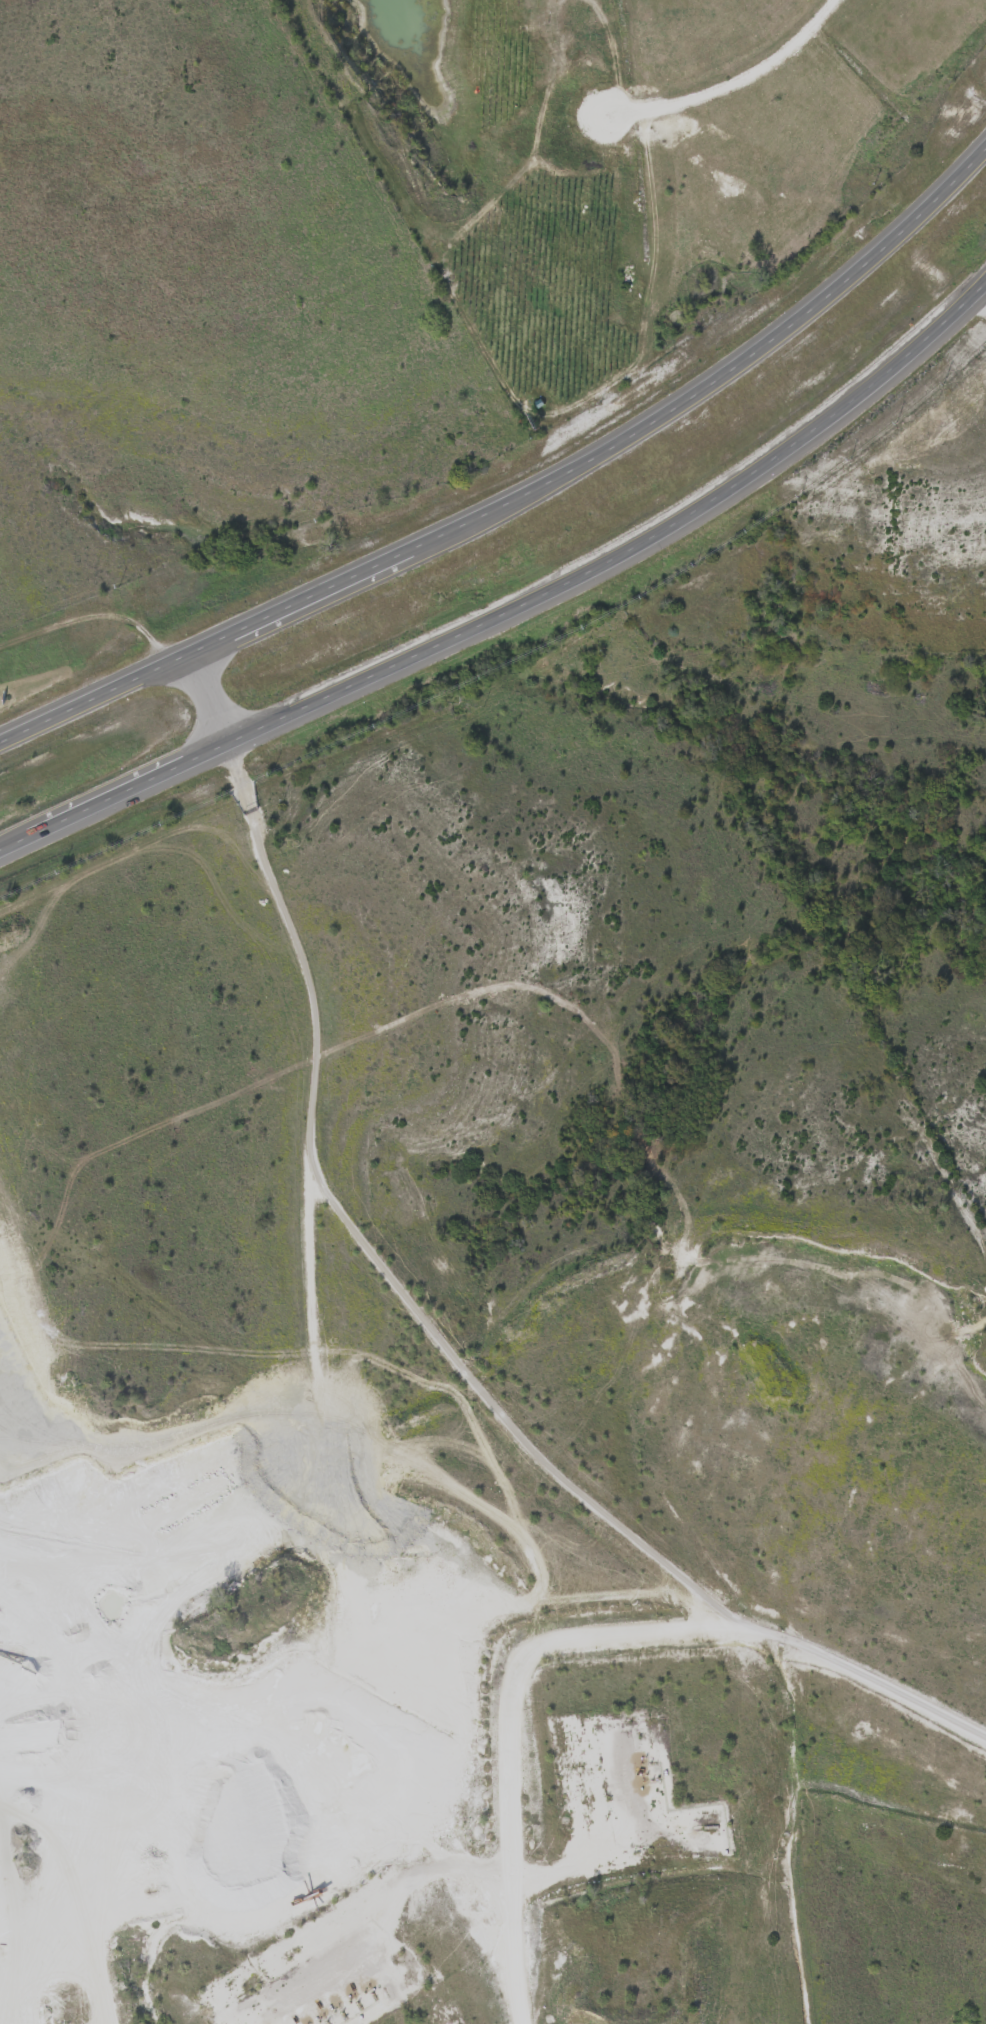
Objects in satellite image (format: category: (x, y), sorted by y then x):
road: (729, 77)
road: (524, 490)
road: (629, 544)
road: (207, 693)
road: (114, 792)
road: (499, 1404)
road: (340, 1440)
road: (181, 1607)
road: (511, 1734)

